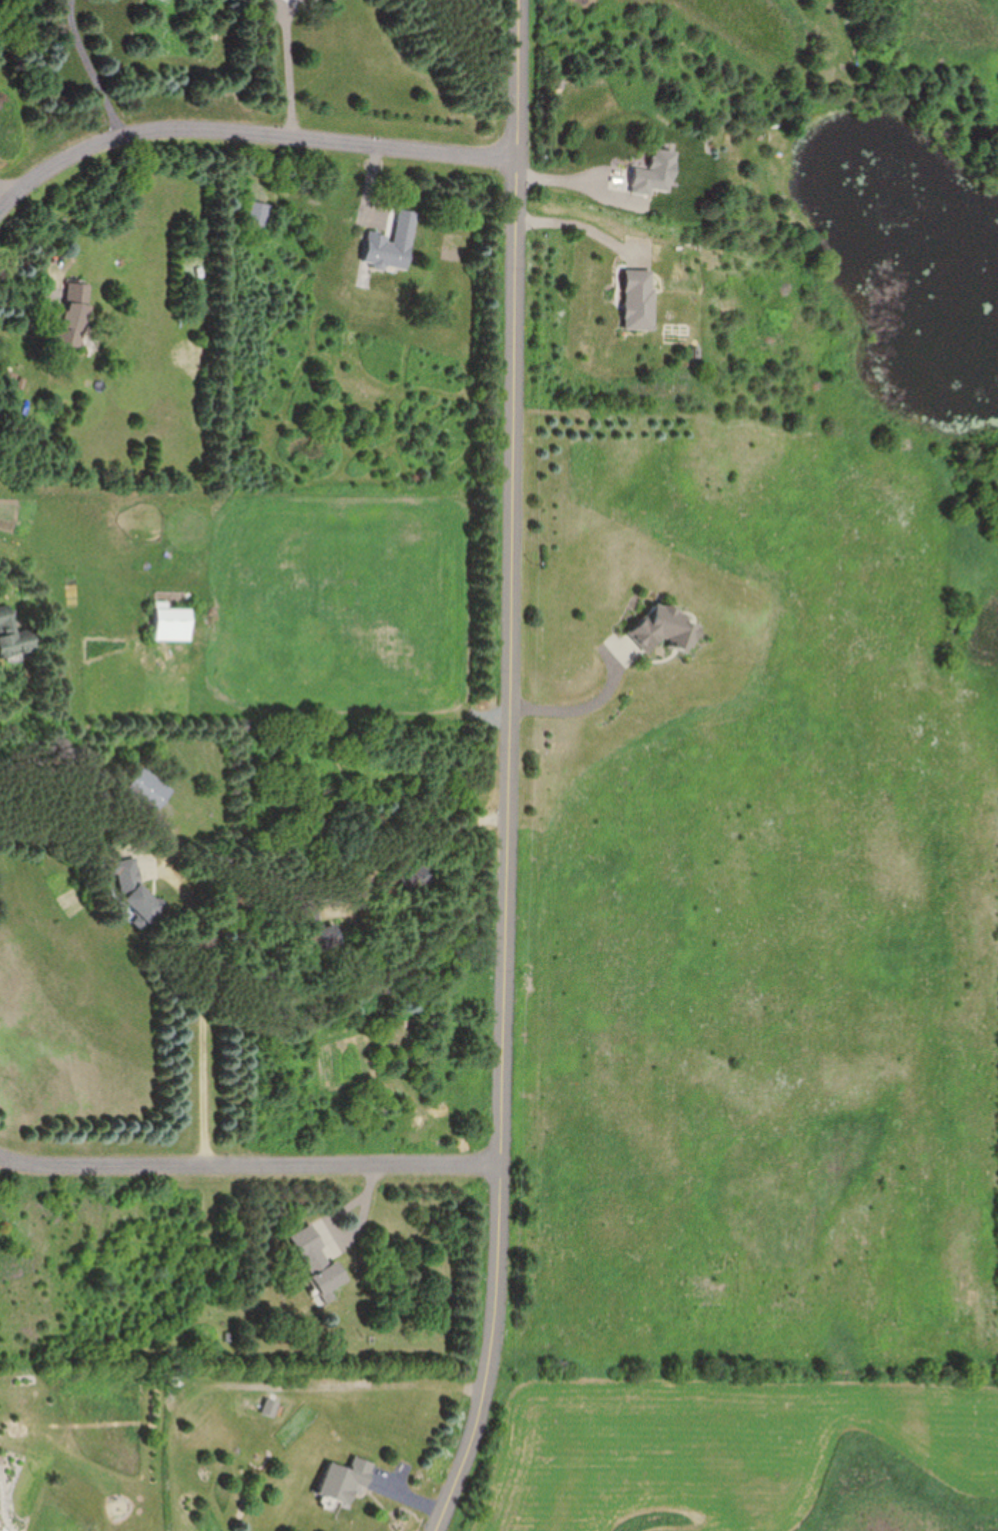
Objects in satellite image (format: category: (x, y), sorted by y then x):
road: (289, 70)
road: (93, 71)
road: (247, 138)
building: (658, 173)
road: (580, 183)
road: (10, 192)
building: (260, 214)
road: (578, 219)
building: (393, 245)
building: (642, 299)
building: (74, 314)
building: (173, 624)
building: (667, 629)
building: (14, 632)
road: (581, 706)
road: (510, 770)
building: (149, 789)
road: (413, 856)
building: (420, 879)
building: (139, 895)
building: (325, 937)
road: (205, 1005)
road: (250, 1165)
building: (319, 1260)
road: (384, 1386)
building: (271, 1408)
building: (346, 1478)

